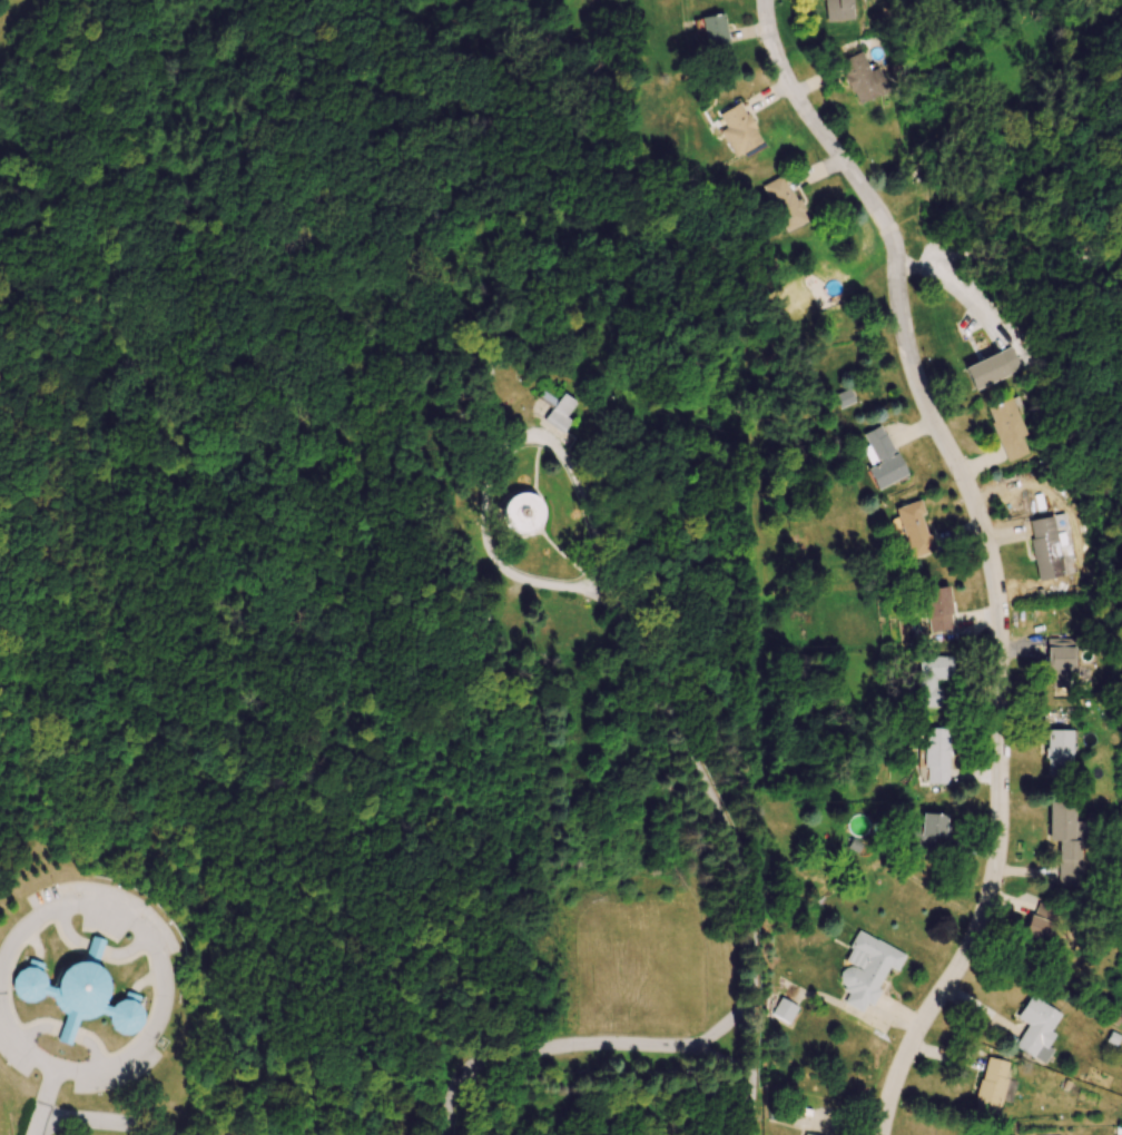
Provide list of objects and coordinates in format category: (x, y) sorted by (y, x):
building: (814, 0)
building: (840, 10)
building: (603, 31)
building: (717, 31)
building: (864, 79)
building: (739, 129)
building: (786, 204)
building: (990, 371)
building: (560, 406)
building: (1011, 431)
building: (883, 457)
building: (524, 513)
building: (916, 530)
building: (1054, 547)
road: (990, 554)
building: (939, 610)
road: (620, 613)
building: (1064, 663)
building: (933, 680)
building: (1060, 753)
building: (937, 757)
building: (935, 835)
building: (1067, 843)
building: (1039, 932)
building: (868, 973)
road: (165, 985)
building: (80, 998)
building: (785, 1011)
road: (754, 1028)
building: (1037, 1030)
road: (542, 1047)
road: (722, 1057)
building: (995, 1090)
road: (750, 1098)
road: (42, 1101)
road: (105, 1118)
road: (749, 1129)
building: (236, 1134)

